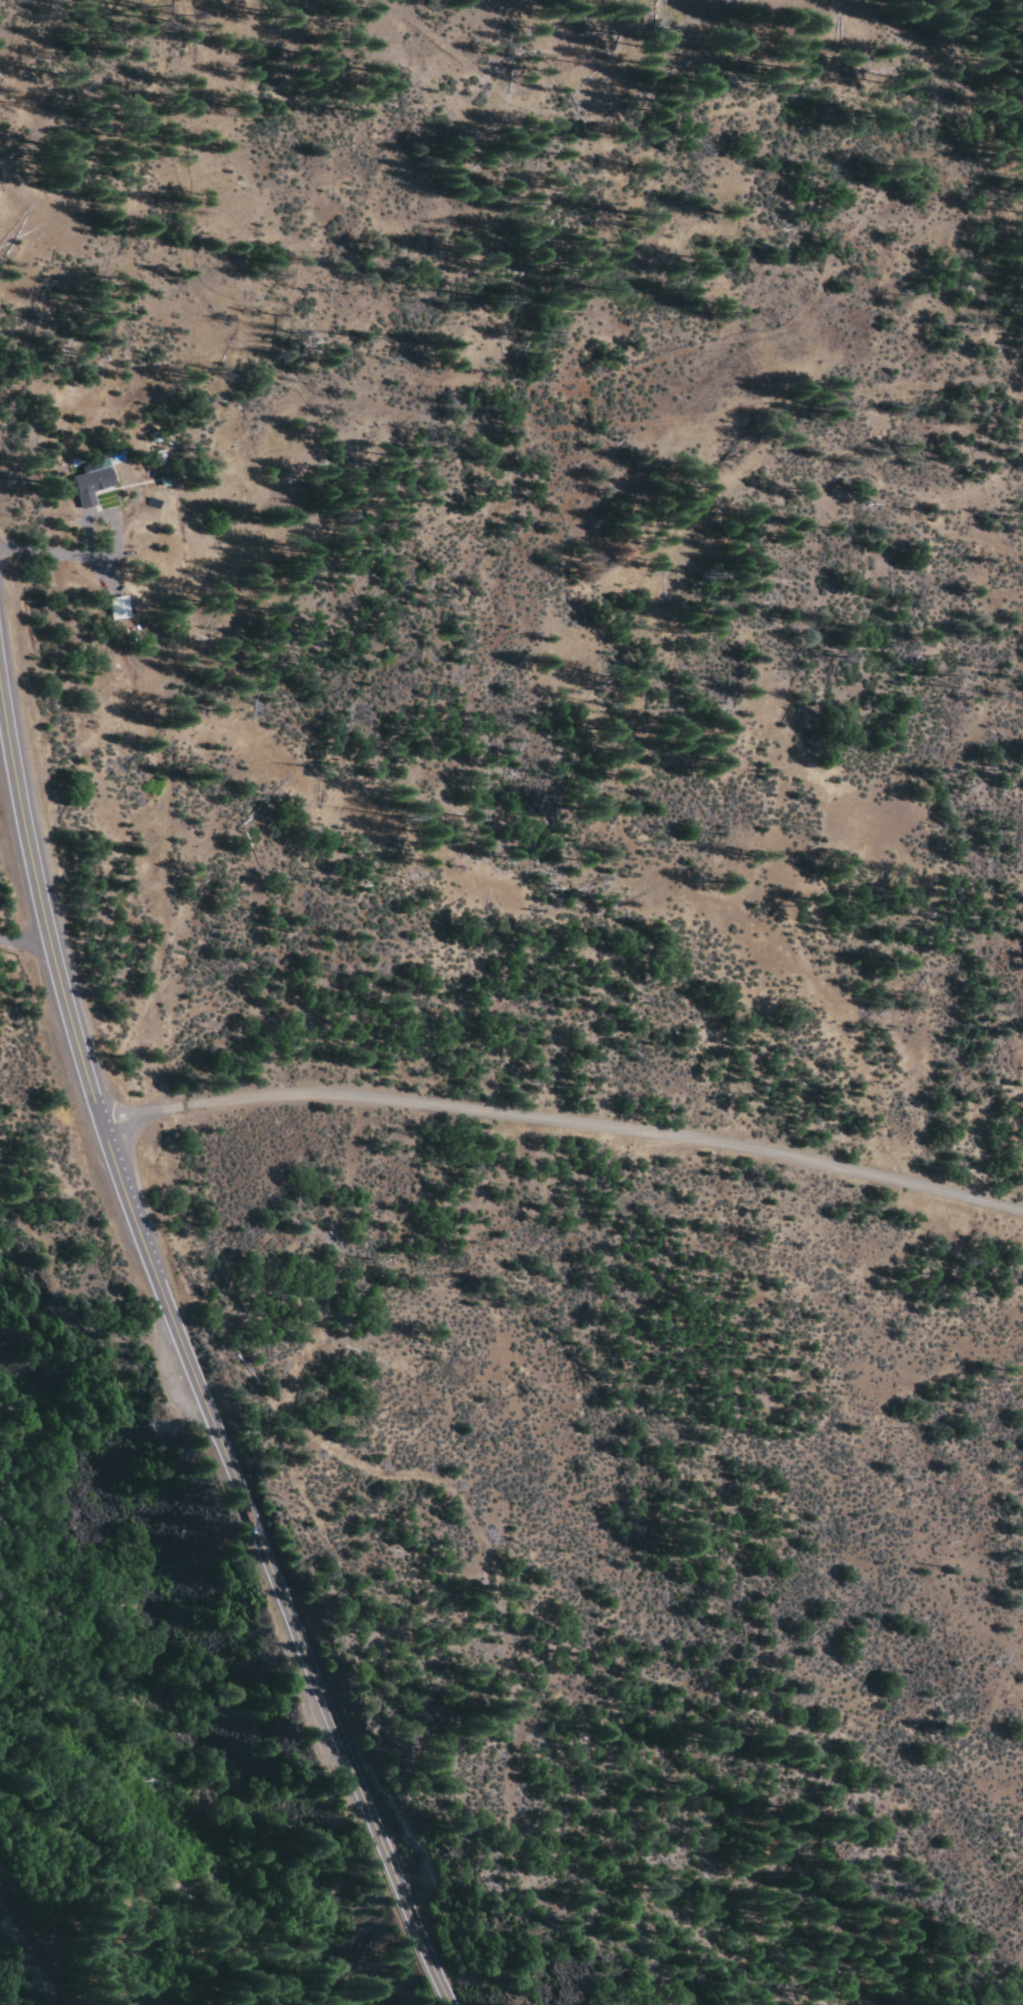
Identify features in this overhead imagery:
building: (102, 477)
road: (566, 1122)
road: (185, 1348)

